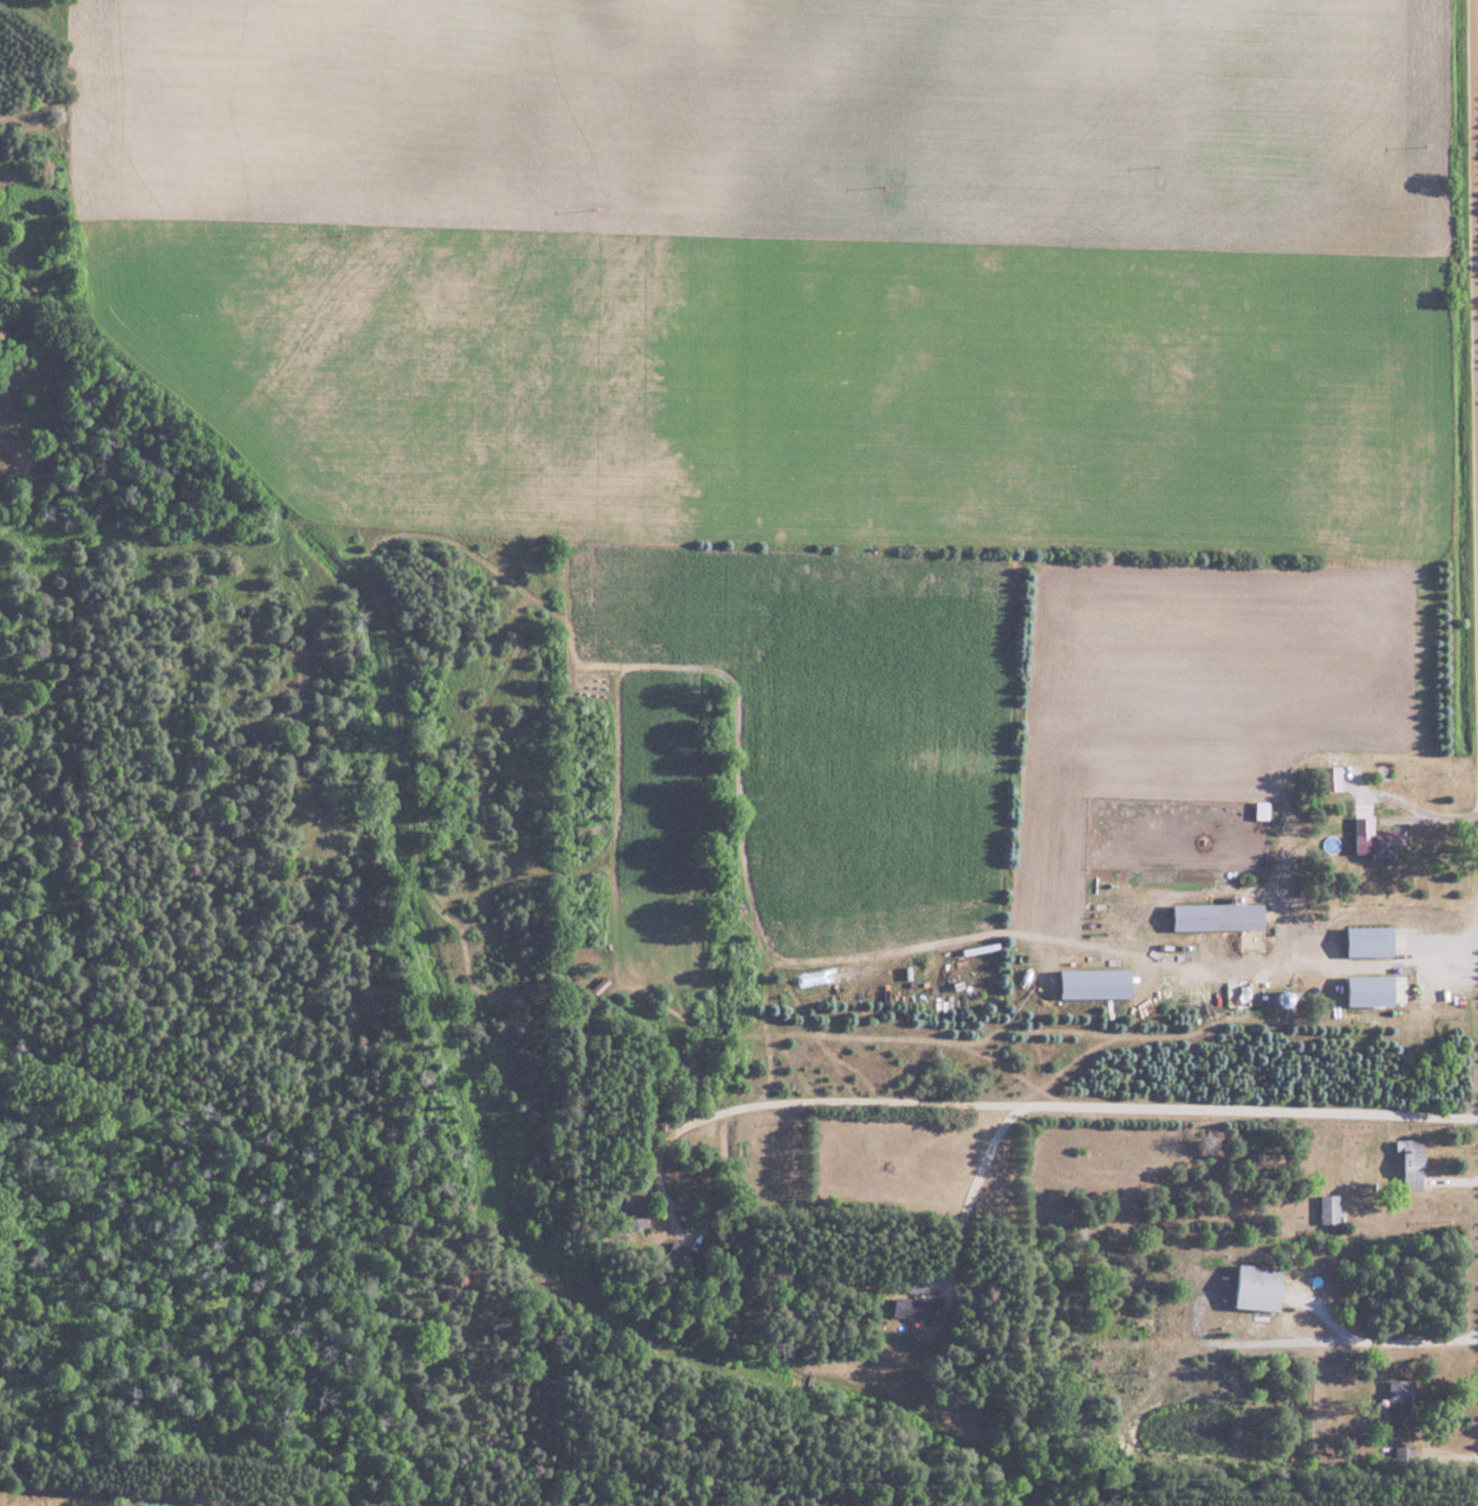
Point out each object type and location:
road: (1476, 118)
building: (1334, 778)
road: (1358, 805)
building: (1263, 809)
road: (1453, 815)
building: (1381, 840)
building: (1221, 916)
building: (1374, 941)
road: (1357, 963)
road: (815, 1088)
road: (1150, 1095)
building: (1415, 1162)
building: (1331, 1208)
building: (1261, 1286)
building: (916, 1307)
road: (1375, 1336)
building: (1399, 1403)

